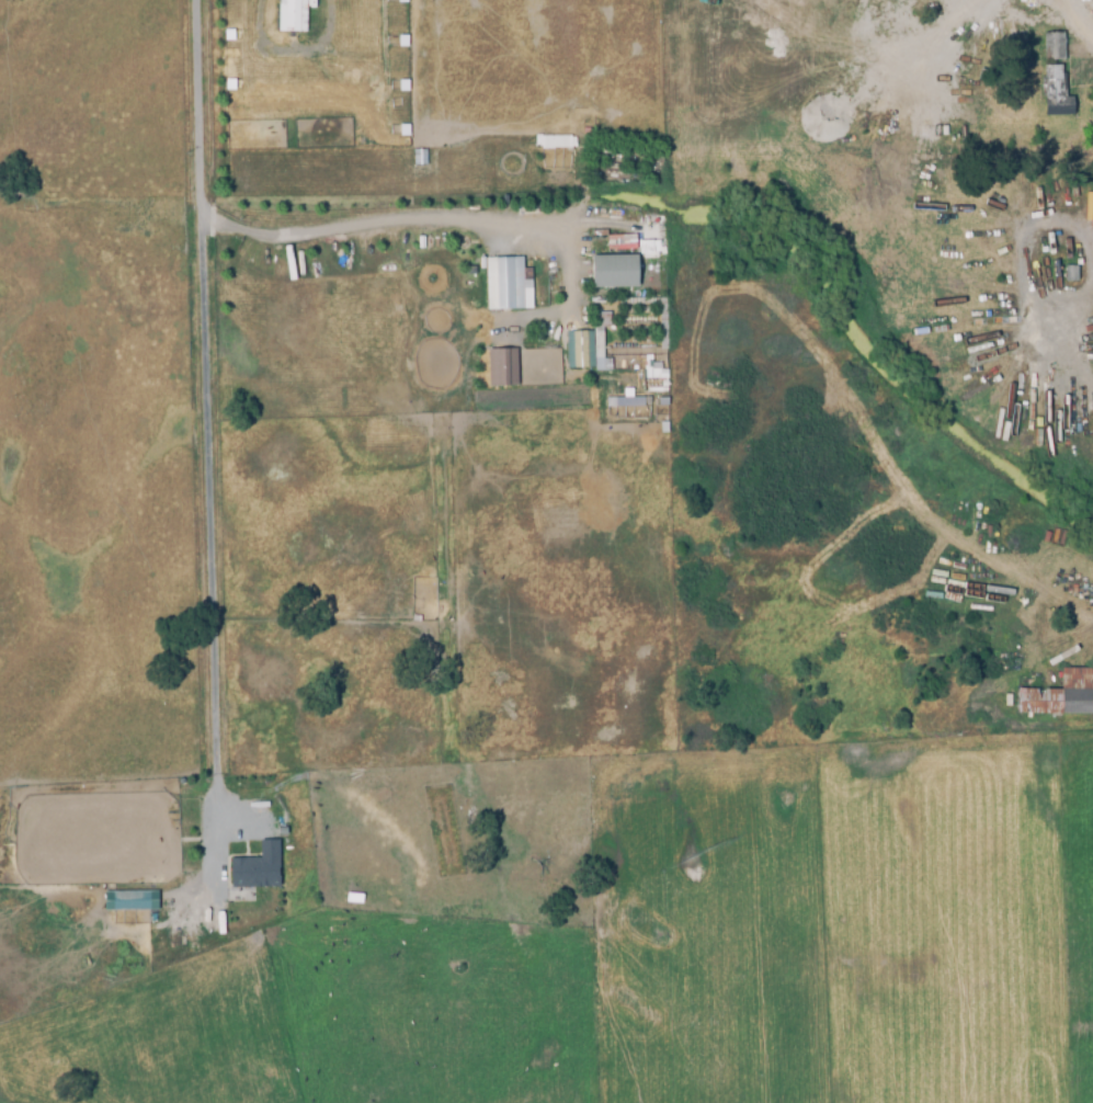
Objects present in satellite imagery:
road: (1075, 12)
building: (291, 15)
building: (802, 21)
building: (1052, 47)
building: (1054, 94)
road: (901, 101)
building: (555, 140)
building: (407, 143)
building: (420, 156)
road: (402, 218)
building: (619, 241)
building: (649, 248)
building: (613, 270)
building: (1071, 275)
building: (506, 283)
building: (587, 345)
building: (500, 366)
building: (623, 403)
road: (207, 420)
building: (1018, 544)
building: (1059, 696)
building: (260, 865)
building: (133, 898)

